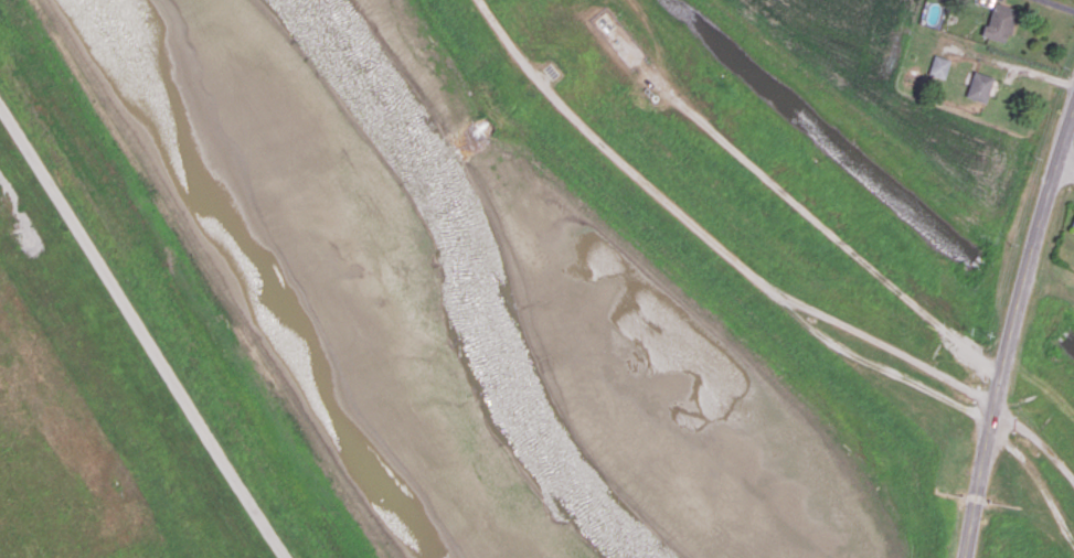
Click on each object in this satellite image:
crop: (1071, 1)
crop: (844, 32)
road: (1013, 67)
road: (1065, 164)
road: (751, 271)
road: (1009, 330)
road: (146, 334)
crop: (71, 451)

